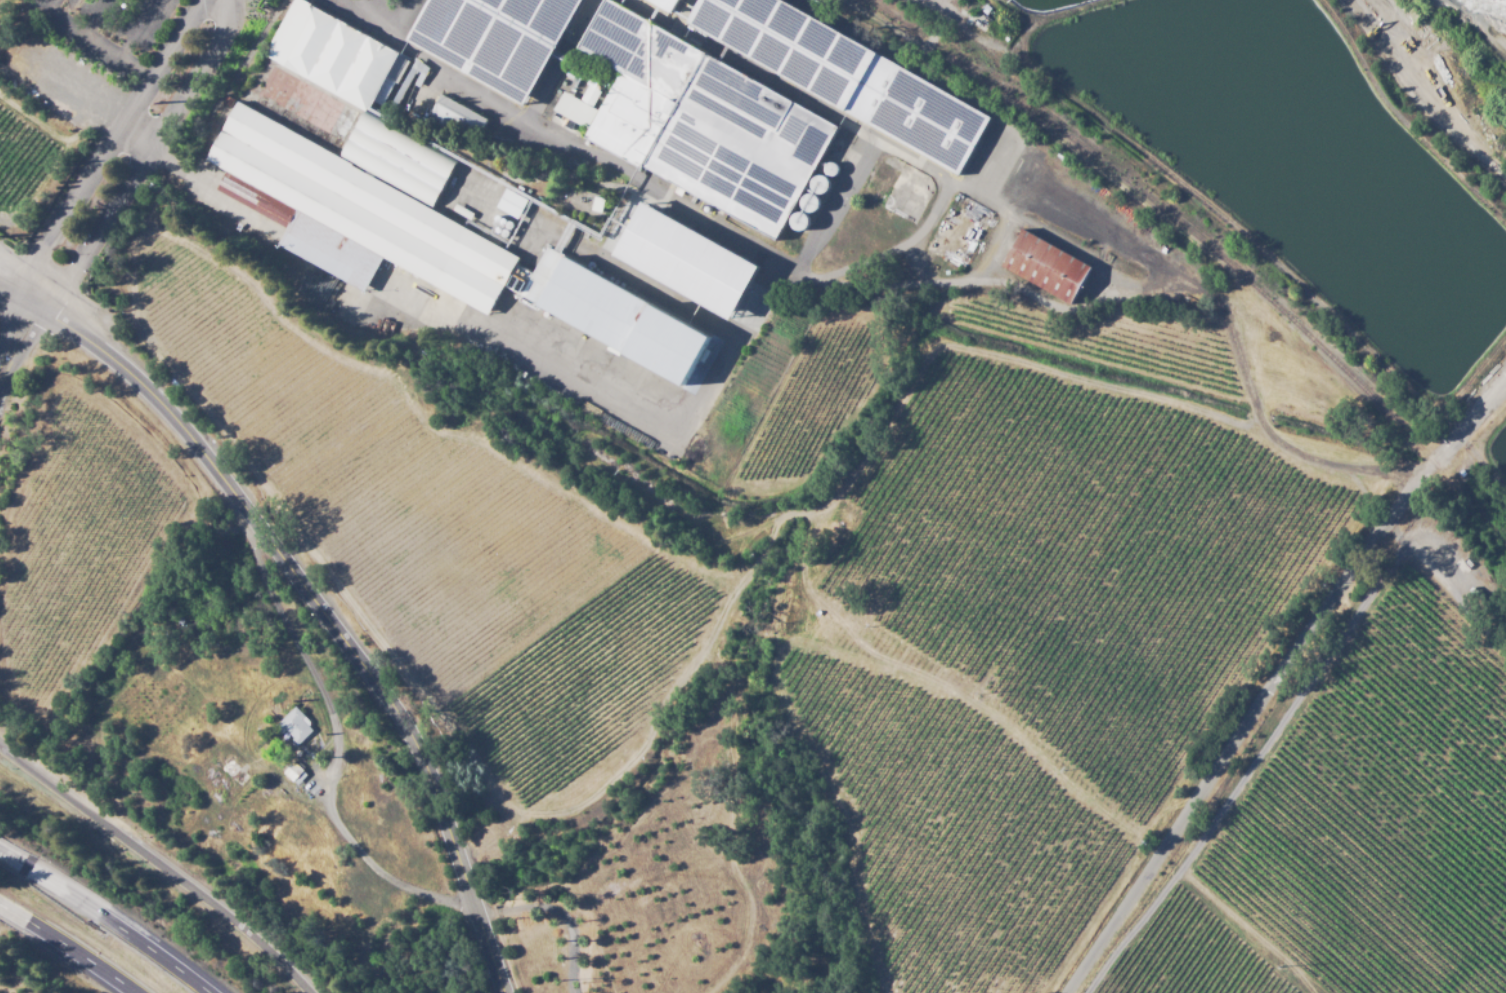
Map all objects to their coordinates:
building: (671, 4)
building: (334, 53)
road: (1421, 96)
building: (460, 116)
road: (104, 148)
road: (142, 161)
building: (422, 175)
building: (514, 203)
road: (1070, 225)
railway: (1206, 243)
building: (698, 262)
building: (1052, 267)
road: (15, 341)
road: (313, 599)
road: (1280, 682)
building: (286, 728)
road: (338, 749)
building: (233, 772)
building: (288, 775)
building: (285, 827)
road: (524, 840)
building: (315, 854)
road: (7, 857)
road: (160, 860)
road: (5, 905)
road: (116, 922)
road: (75, 949)

